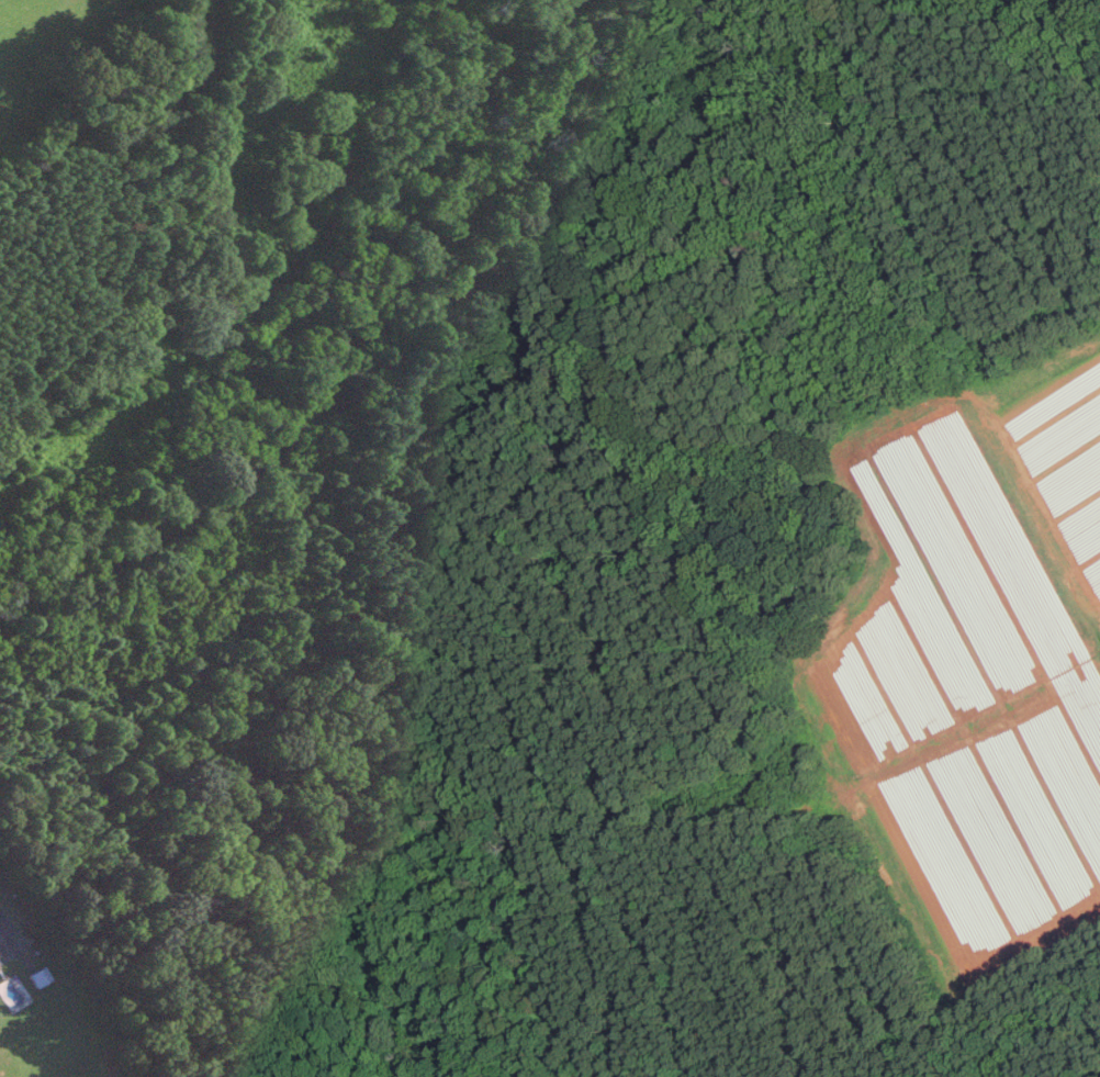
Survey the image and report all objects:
crop: (38, 47)
road: (268, 114)
road: (184, 271)
road: (89, 385)
crop: (93, 430)
road: (2, 928)
building: (38, 975)

